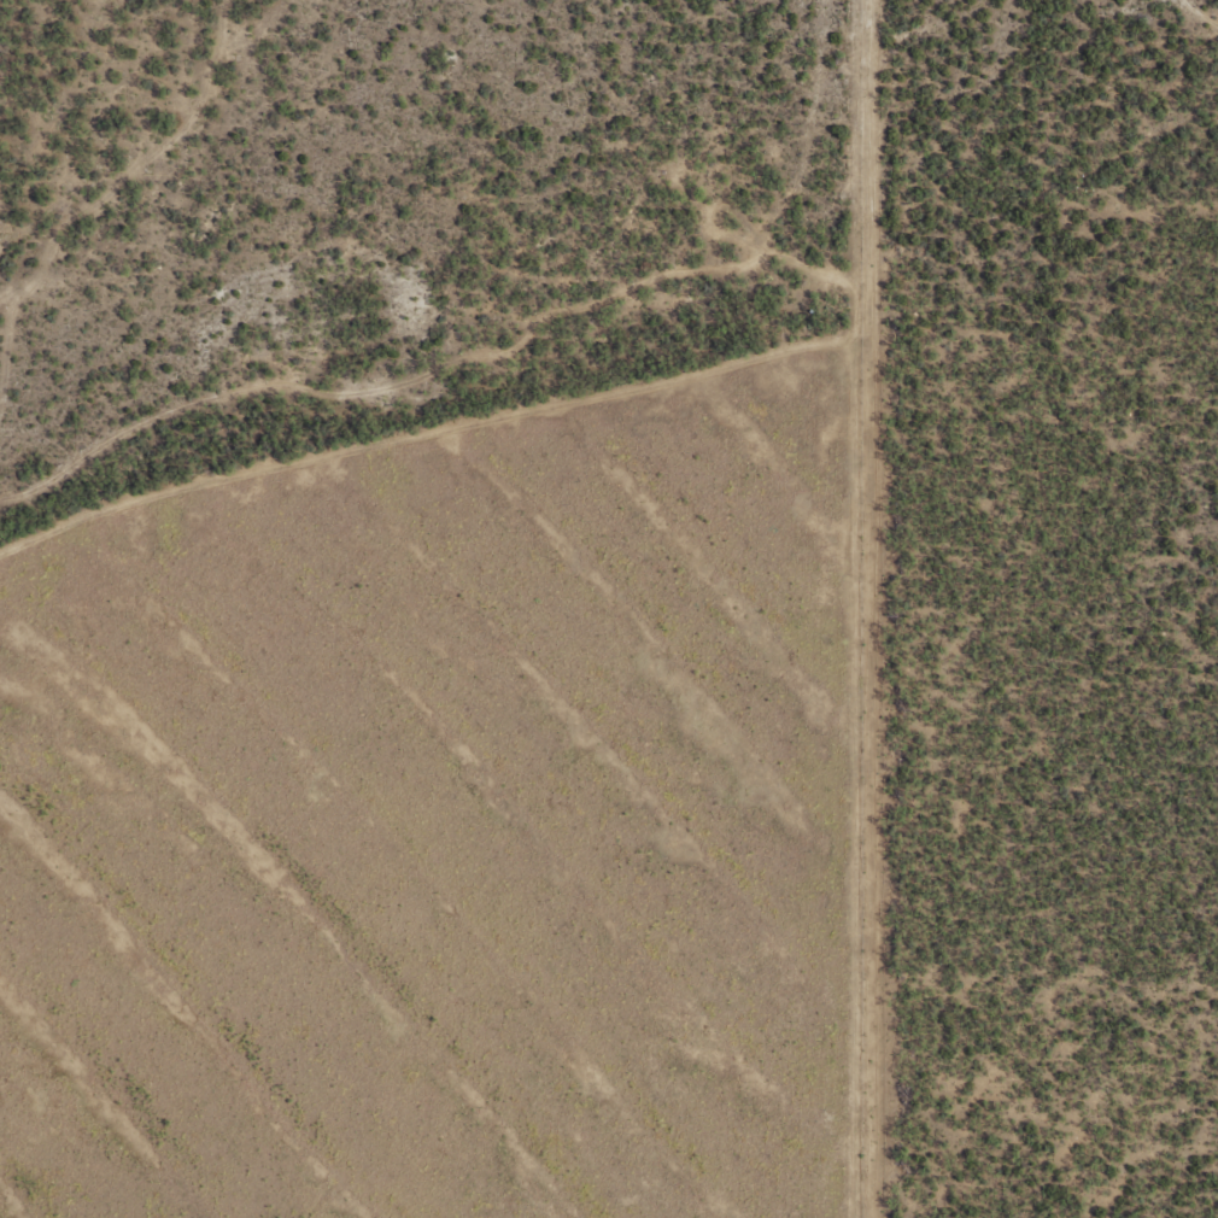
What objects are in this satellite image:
road: (1025, 505)
road: (646, 797)
road: (68, 844)

